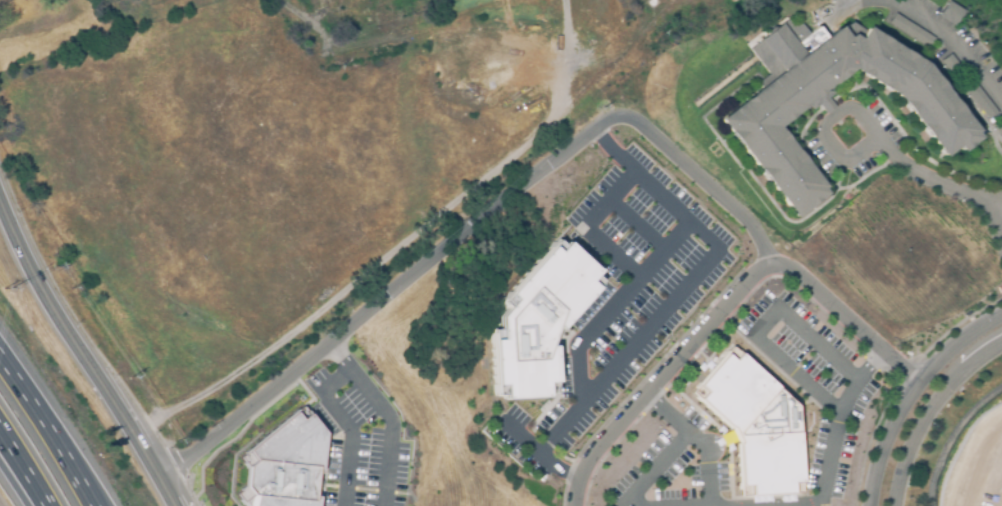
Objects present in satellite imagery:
building: (949, 15)
road: (931, 21)
building: (912, 33)
building: (952, 68)
road: (960, 89)
road: (871, 92)
building: (979, 99)
building: (941, 117)
road: (821, 130)
building: (1000, 131)
road: (904, 151)
road: (840, 175)
road: (942, 183)
road: (998, 205)
road: (786, 218)
road: (634, 223)
road: (475, 225)
road: (676, 236)
road: (651, 265)
road: (635, 276)
road: (683, 286)
road: (728, 312)
building: (535, 319)
road: (801, 334)
road: (85, 353)
road: (340, 356)
road: (345, 374)
road: (796, 378)
road: (910, 393)
road: (929, 412)
road: (669, 415)
building: (755, 424)
road: (49, 428)
road: (944, 430)
road: (838, 432)
road: (540, 456)
road: (710, 463)
building: (284, 465)
road: (26, 466)
road: (654, 469)
road: (18, 480)

